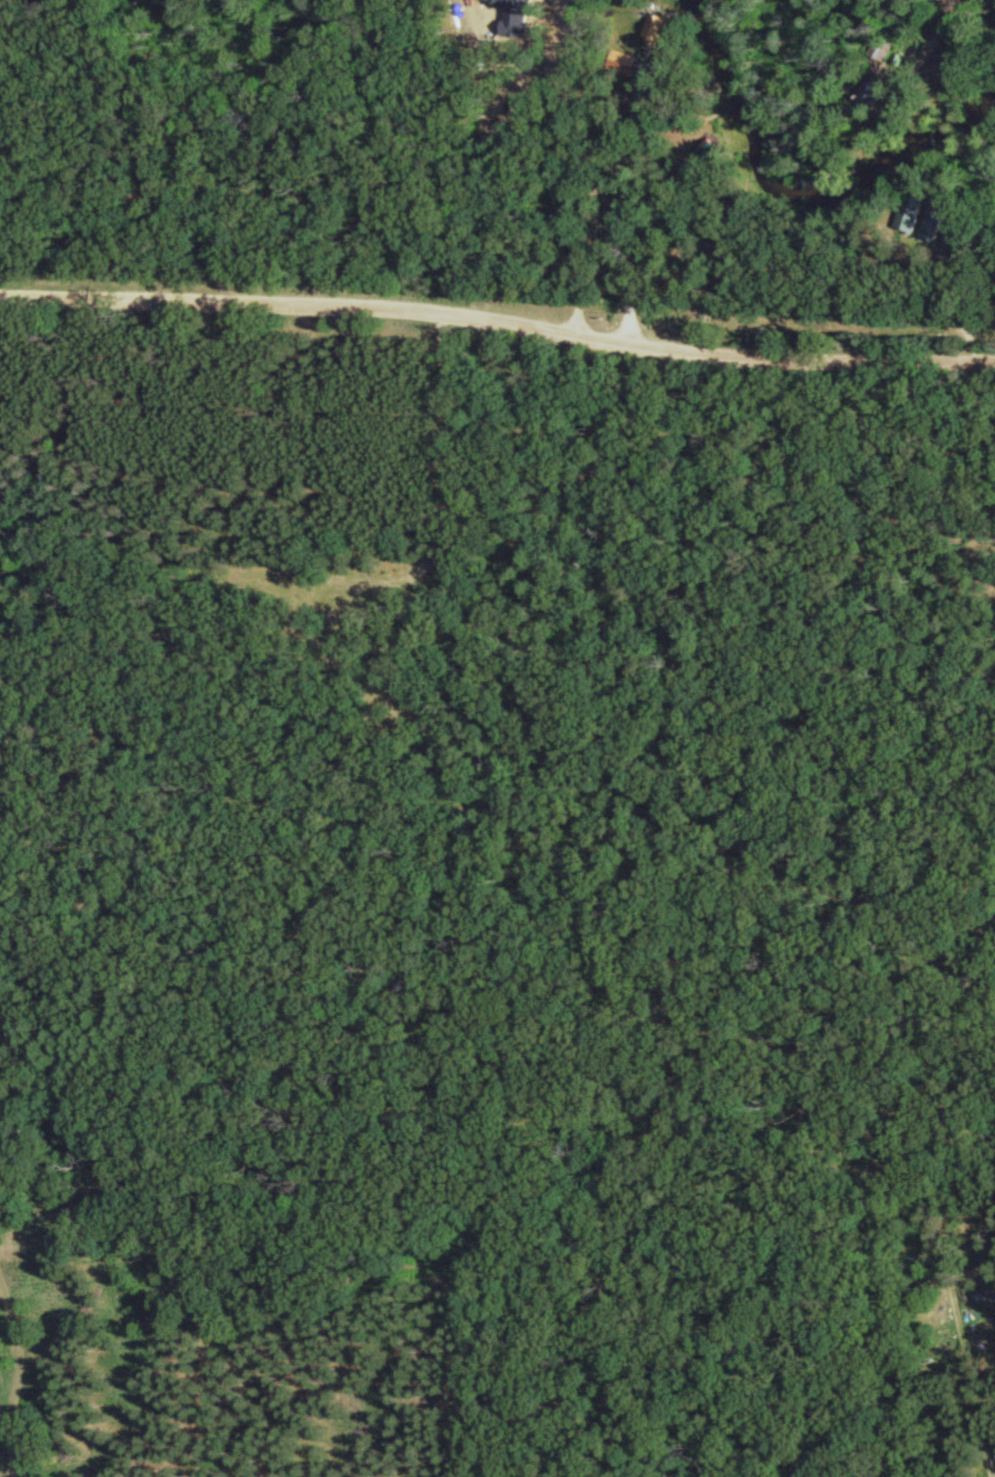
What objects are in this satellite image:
river: (799, 183)
building: (913, 214)
building: (935, 220)
building: (956, 233)
road: (498, 322)

